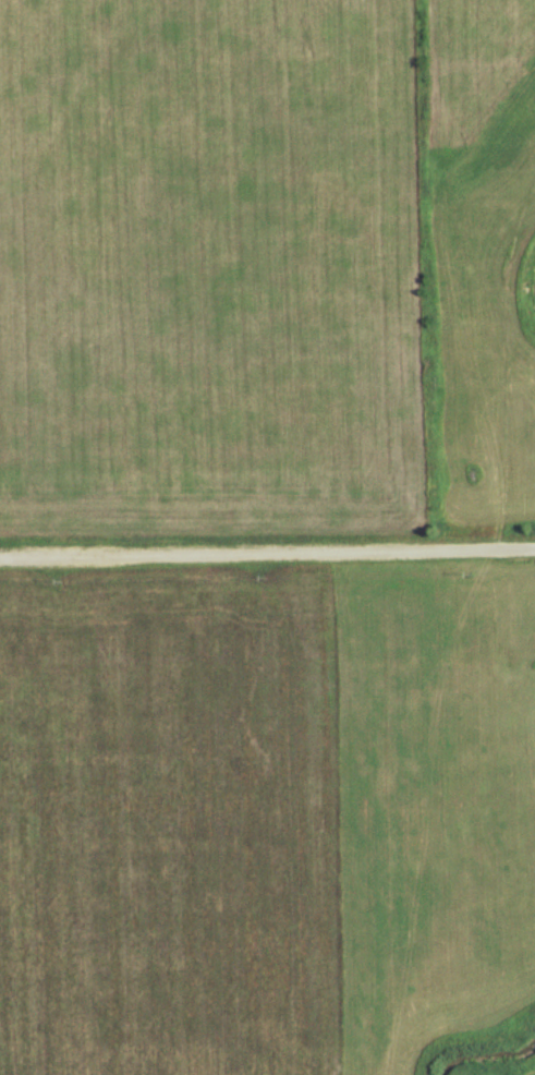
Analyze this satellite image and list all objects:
road: (267, 553)

